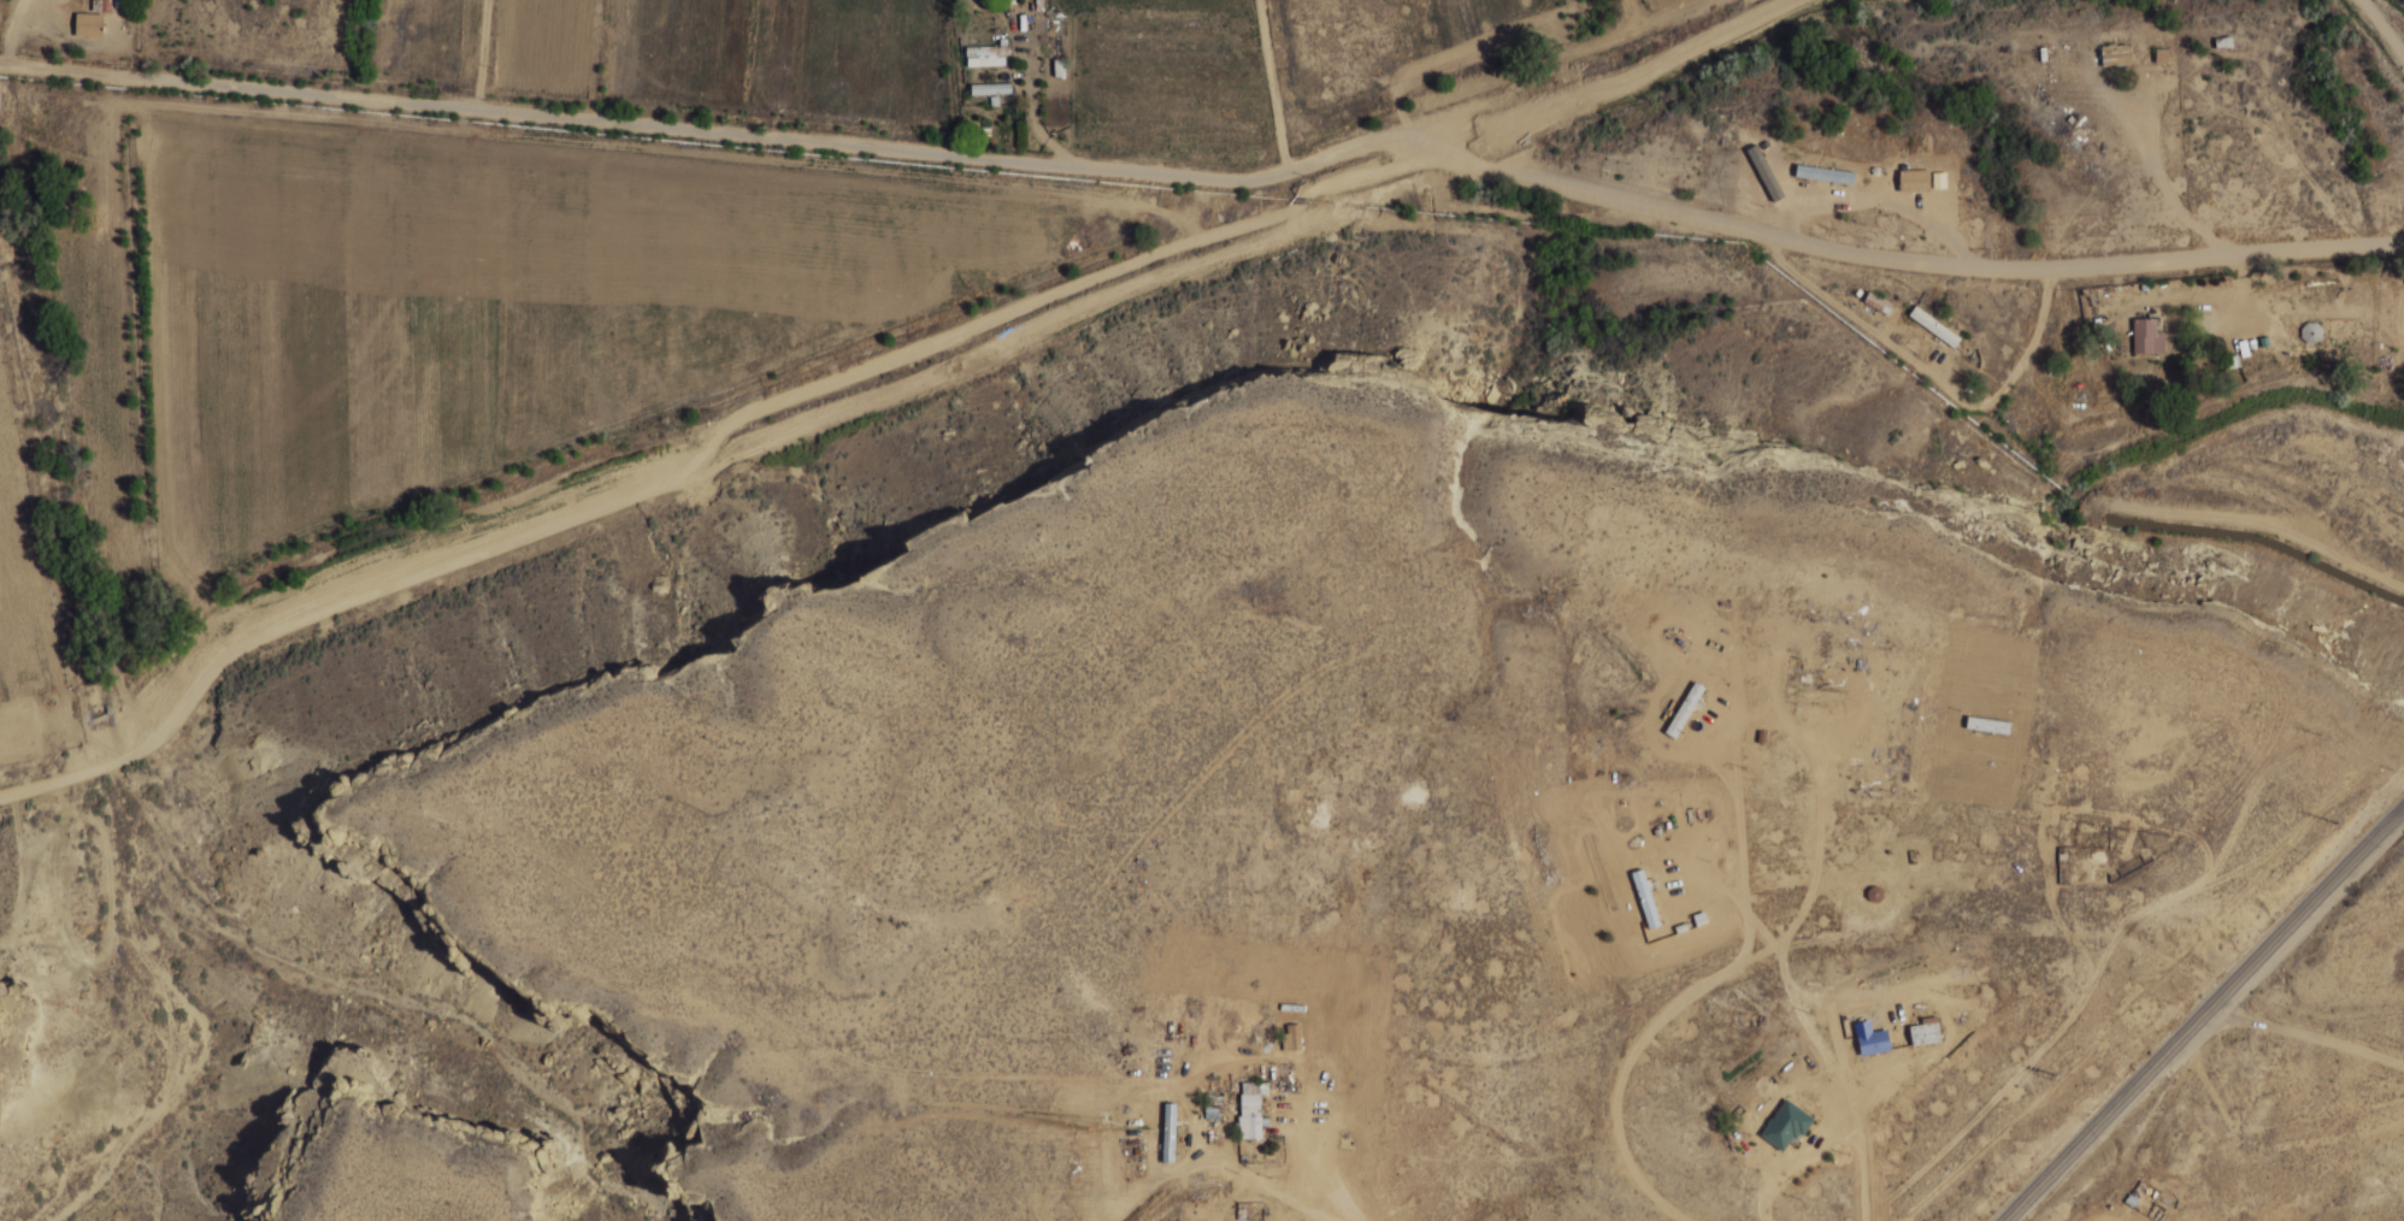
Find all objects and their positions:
building: (104, 5)
building: (88, 25)
road: (2382, 25)
building: (988, 55)
building: (2115, 55)
road: (1616, 83)
building: (990, 89)
road: (718, 132)
building: (1825, 175)
building: (1914, 181)
building: (60, 194)
road: (1731, 225)
road: (2219, 258)
building: (1933, 326)
building: (2311, 334)
building: (2147, 337)
building: (2234, 359)
road: (699, 462)
river: (94, 666)
building: (1814, 696)
building: (1684, 710)
building: (1987, 725)
building: (1645, 899)
road: (1849, 980)
road: (2202, 1014)
road: (1656, 1021)
building: (1925, 1032)
building: (1296, 1036)
building: (1874, 1042)
building: (1250, 1109)
building: (1786, 1126)
building: (1168, 1132)
road: (2259, 1144)

